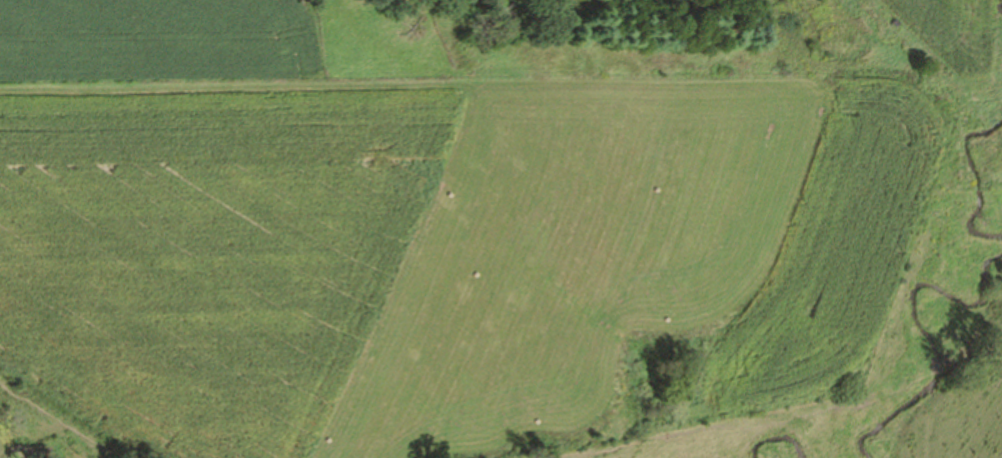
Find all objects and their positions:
river: (973, 178)
river: (925, 338)
river: (776, 443)

